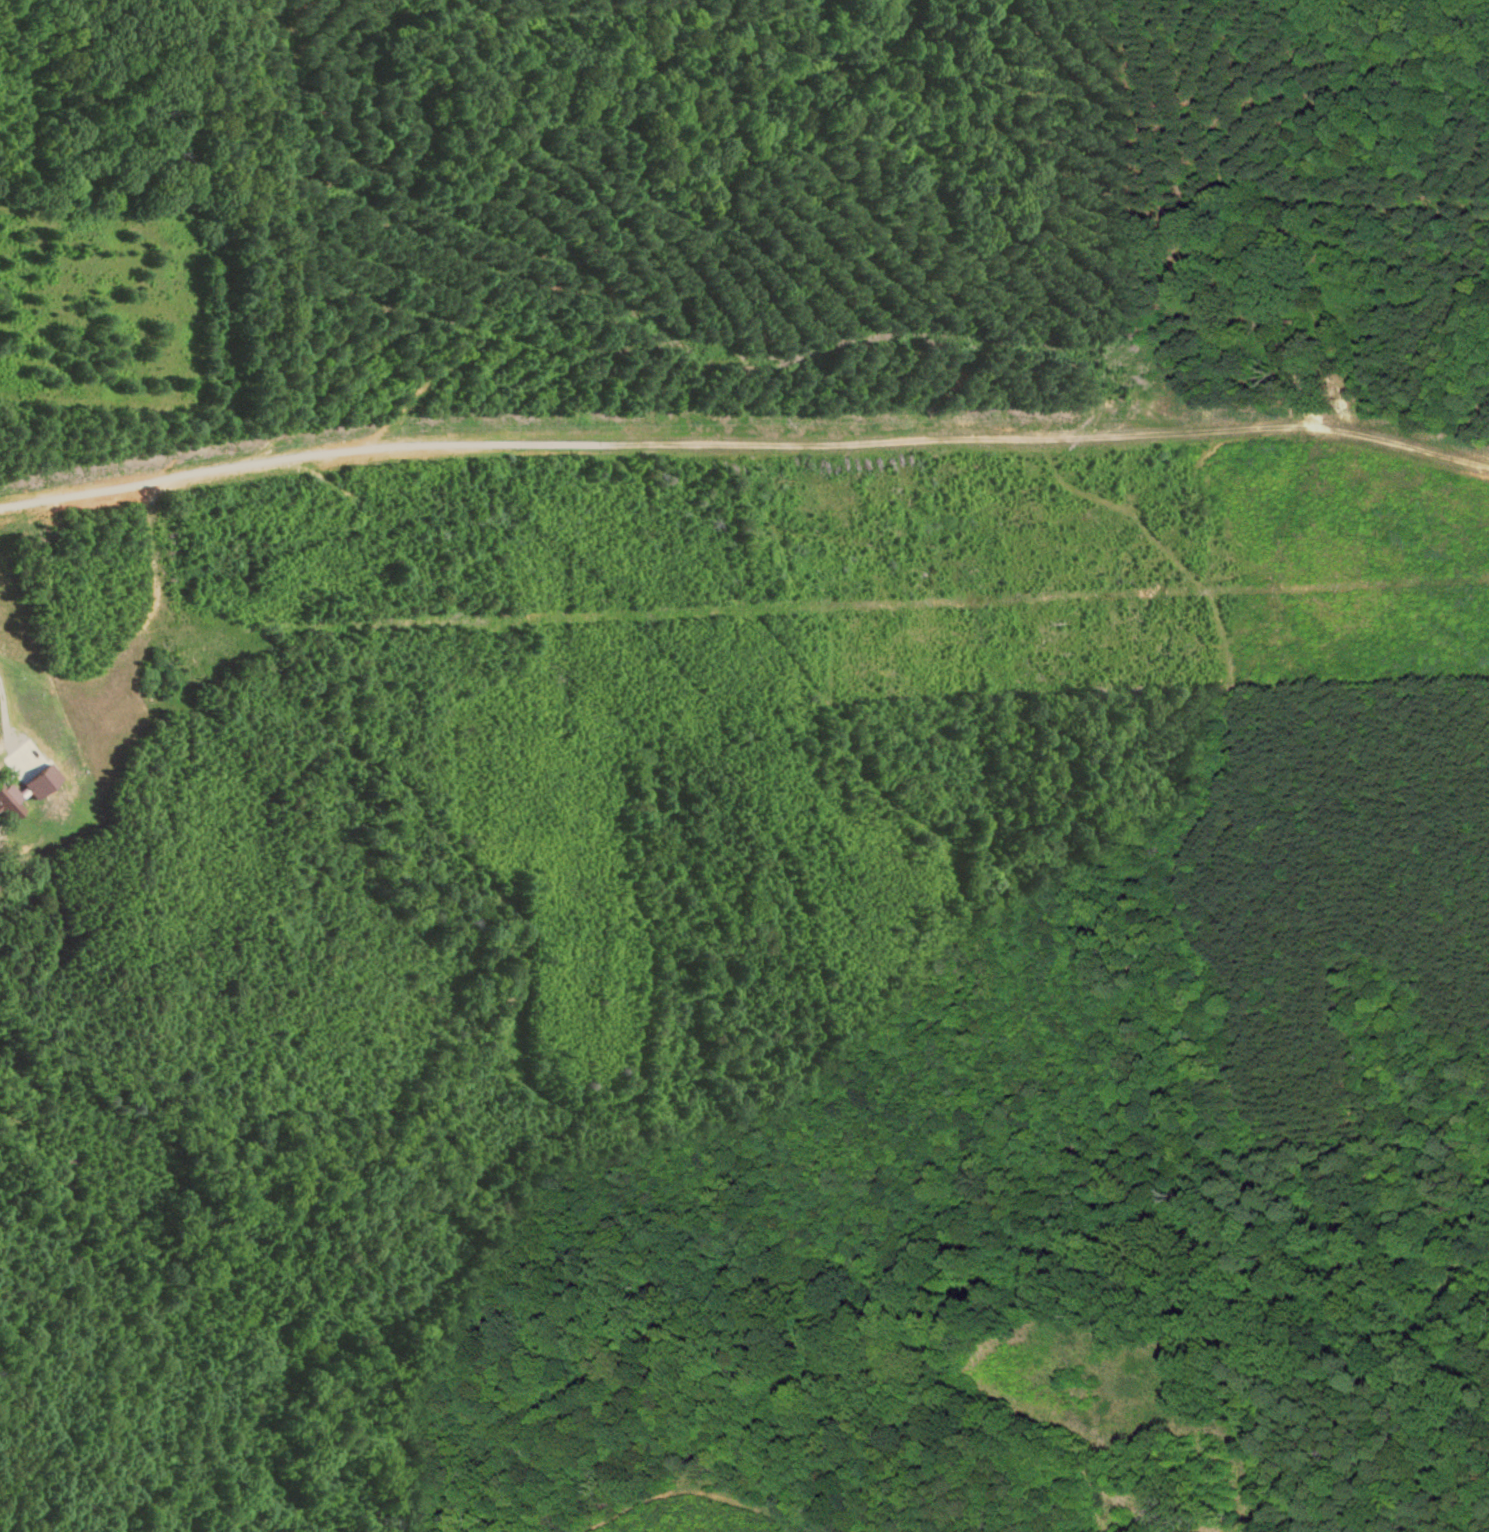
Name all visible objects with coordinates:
building: (1082, 1387)
building: (1117, 1521)

